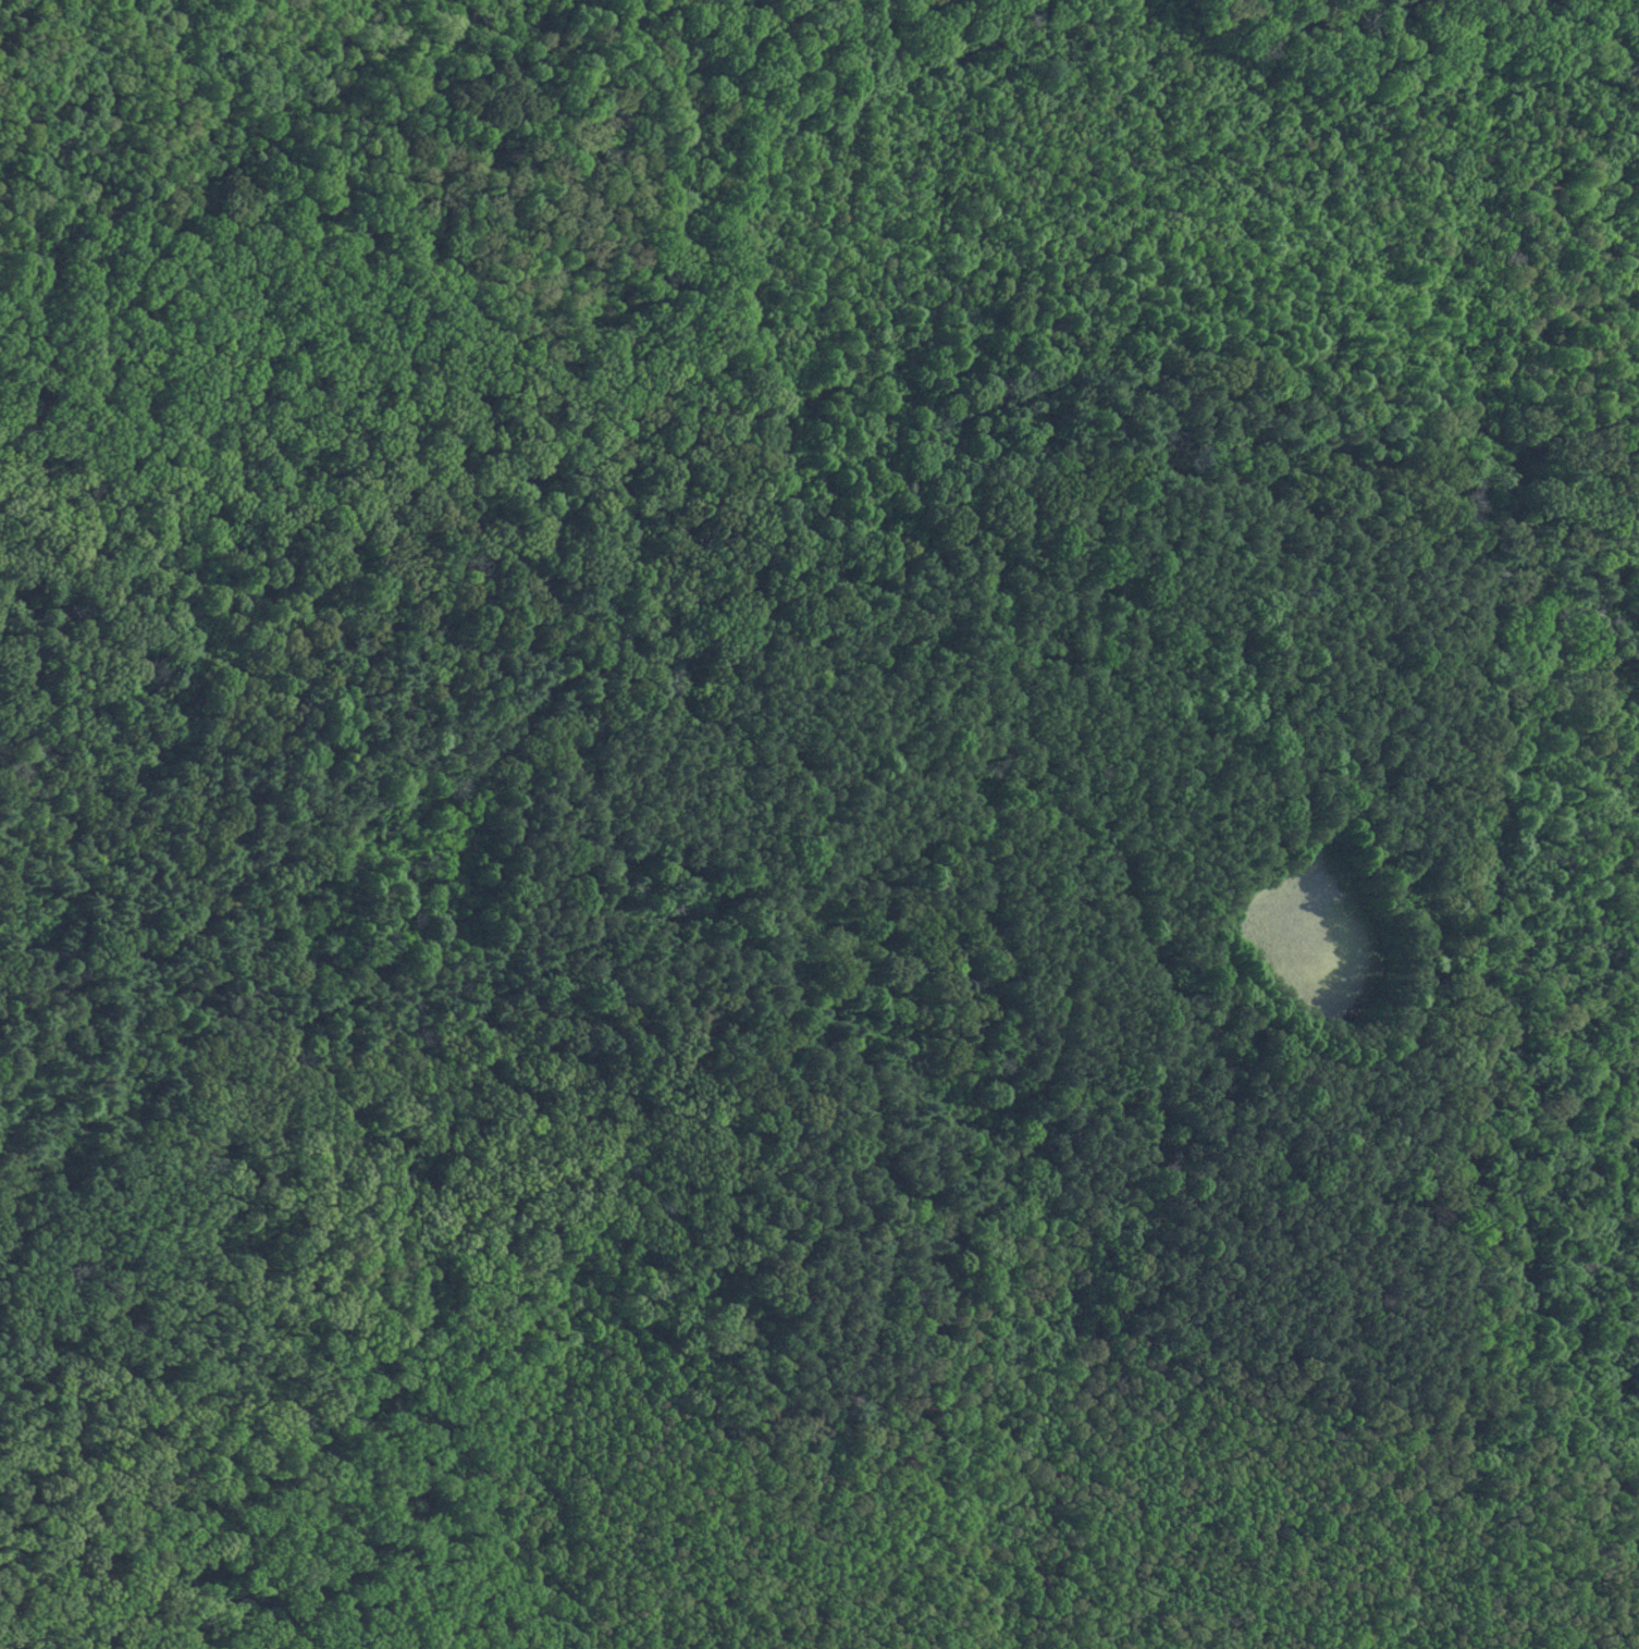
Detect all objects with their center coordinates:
road: (949, 517)

